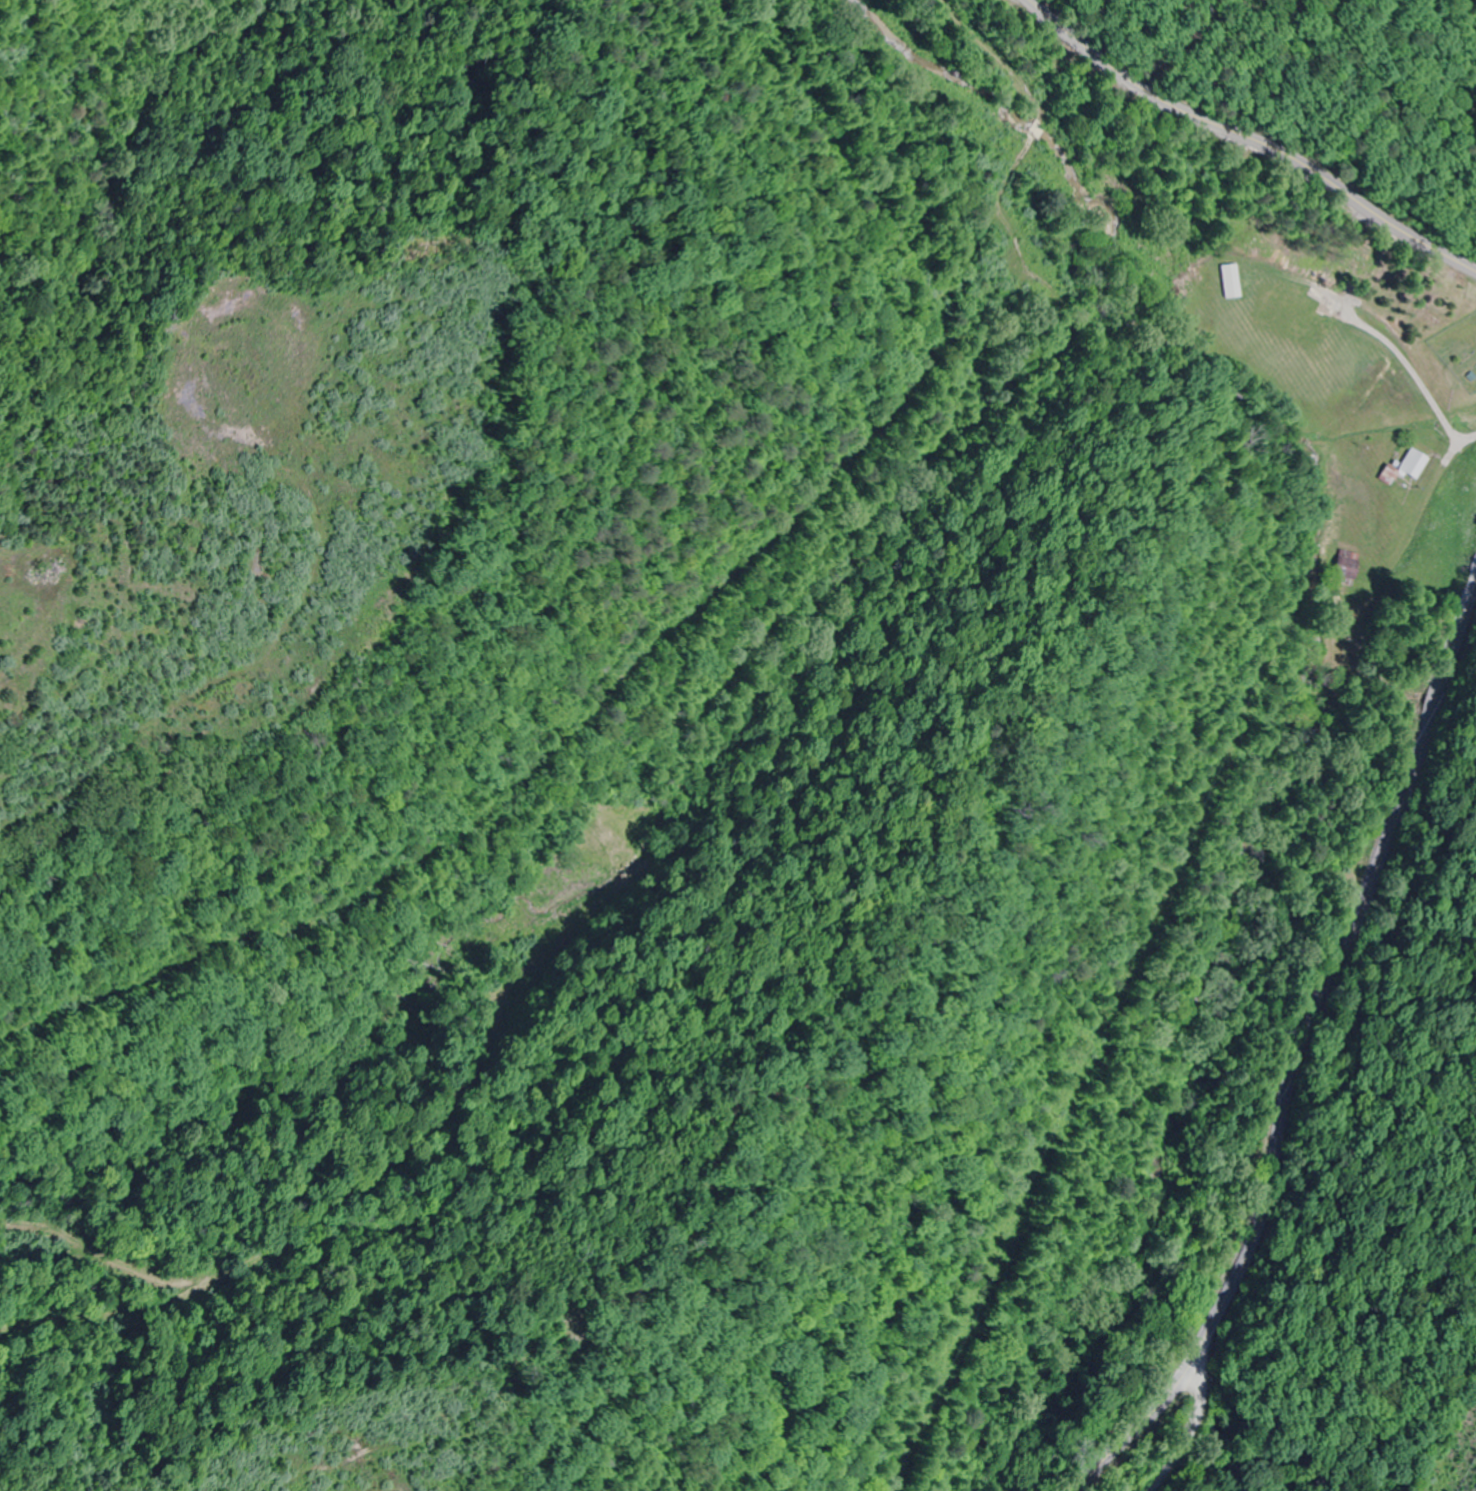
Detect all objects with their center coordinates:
road: (1250, 138)
building: (1231, 281)
building: (1317, 325)
building: (1413, 464)
building: (1348, 566)
road: (1299, 1047)

